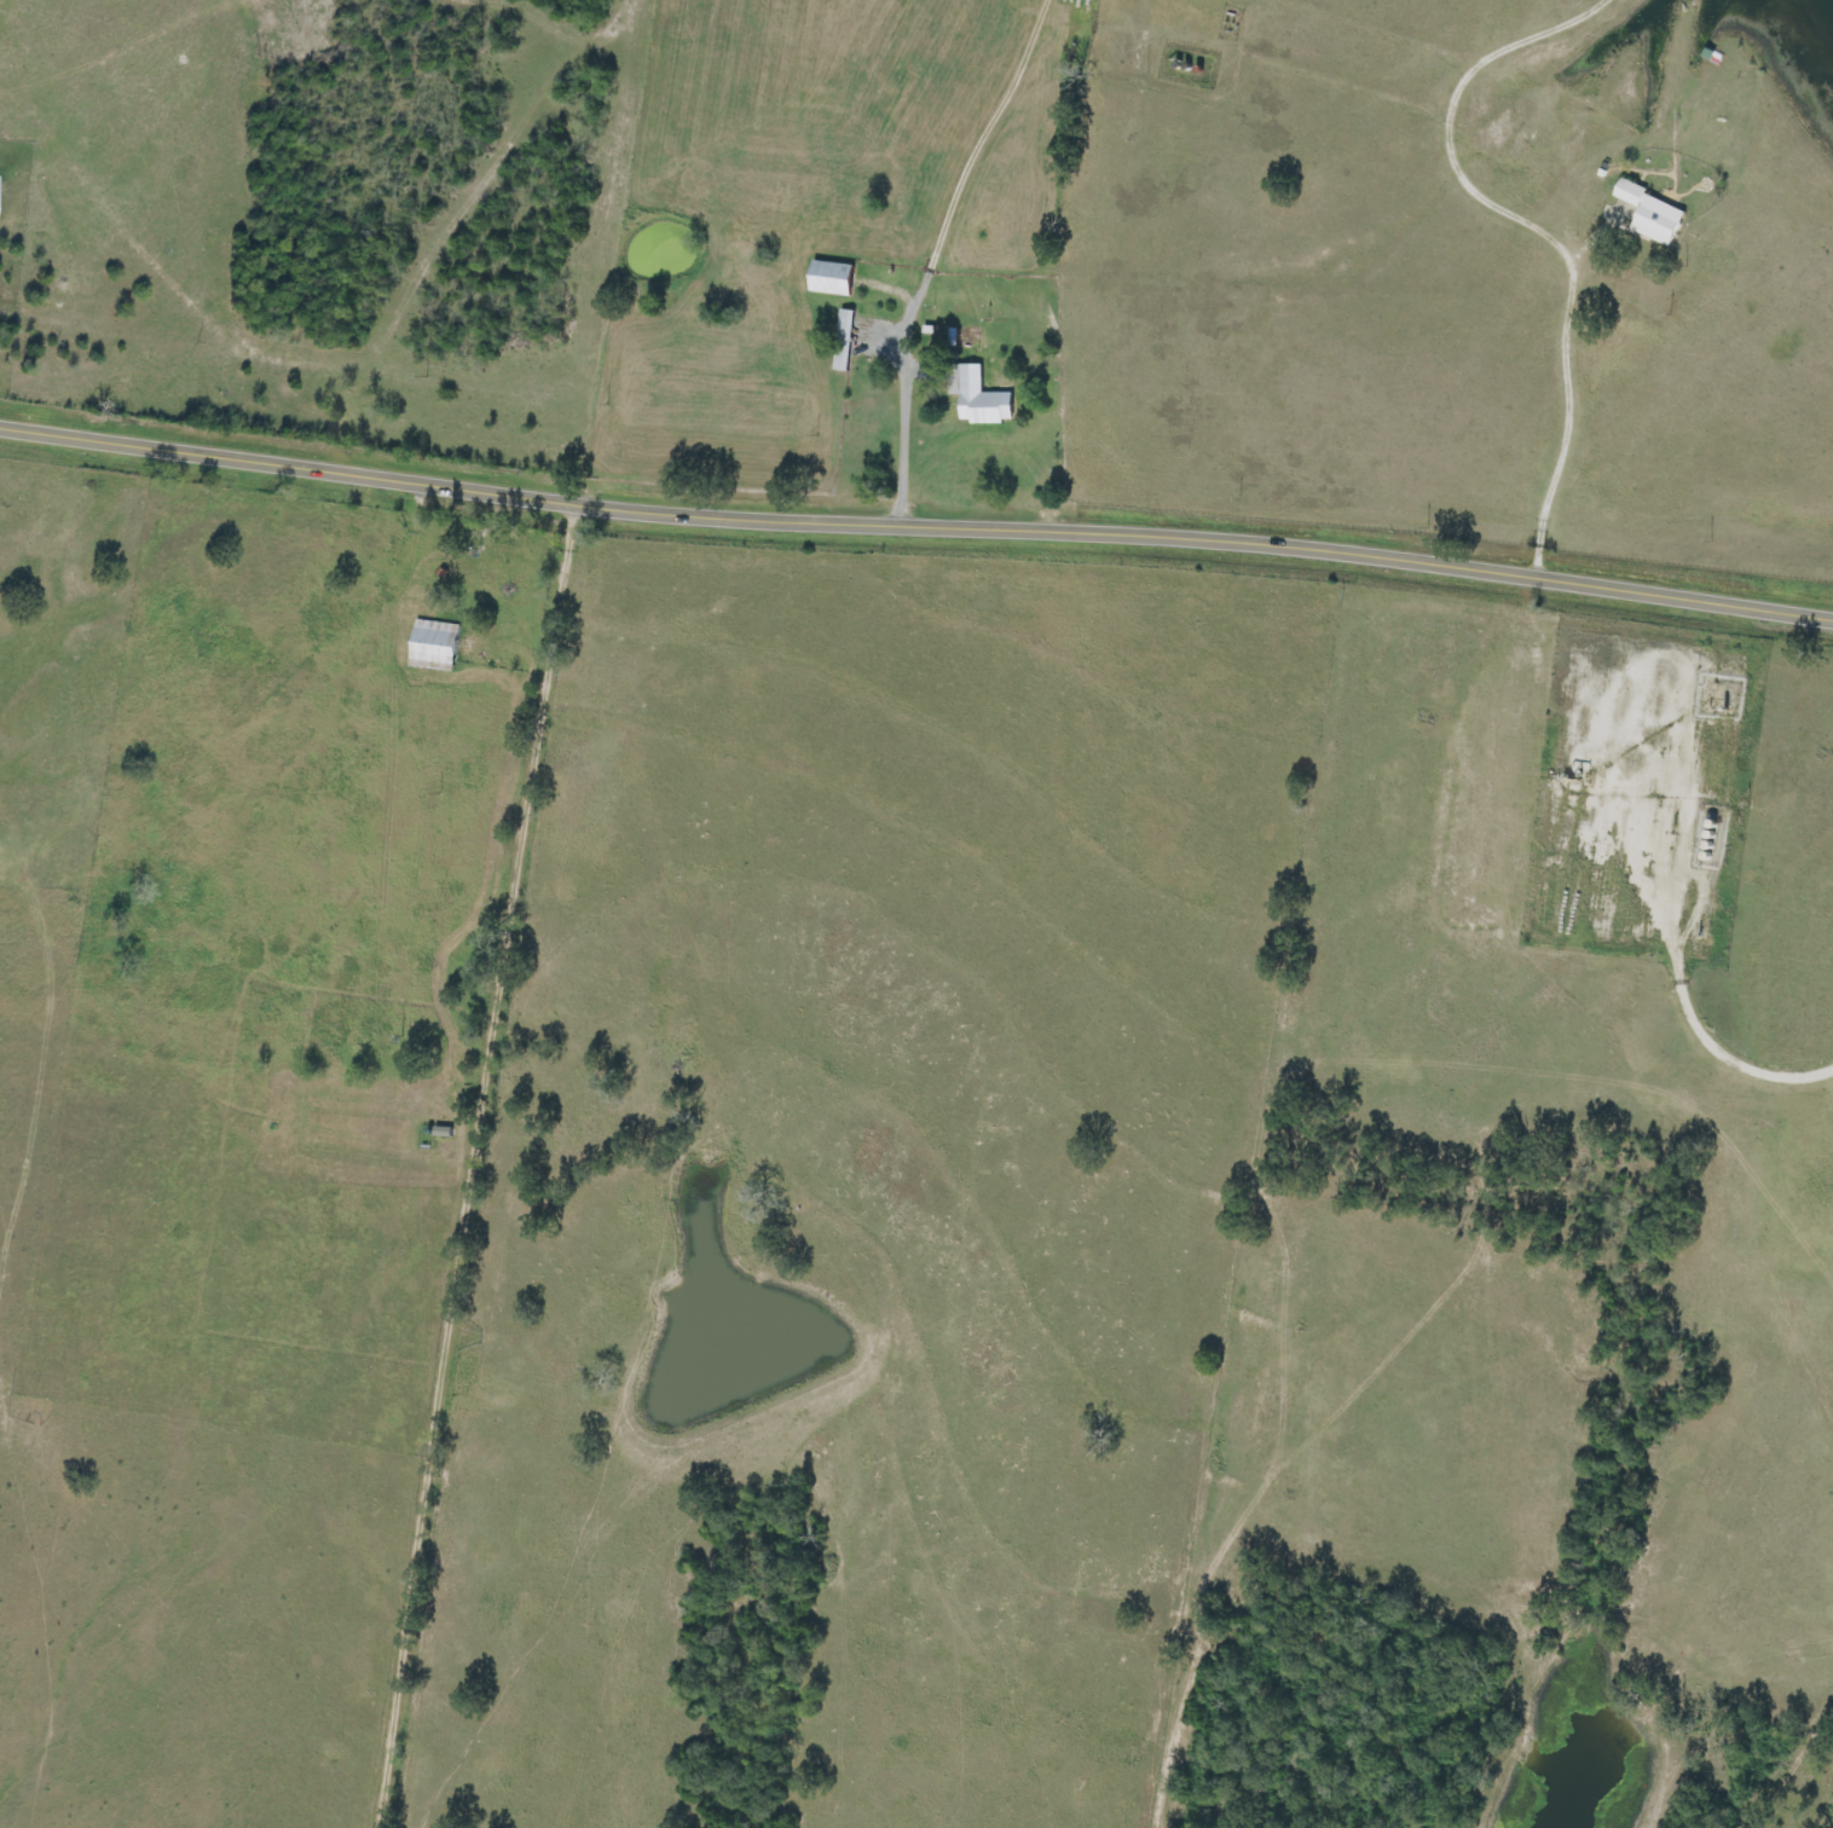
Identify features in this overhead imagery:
building: (1654, 213)
building: (837, 278)
building: (846, 340)
building: (987, 399)
road: (915, 526)
building: (438, 646)

